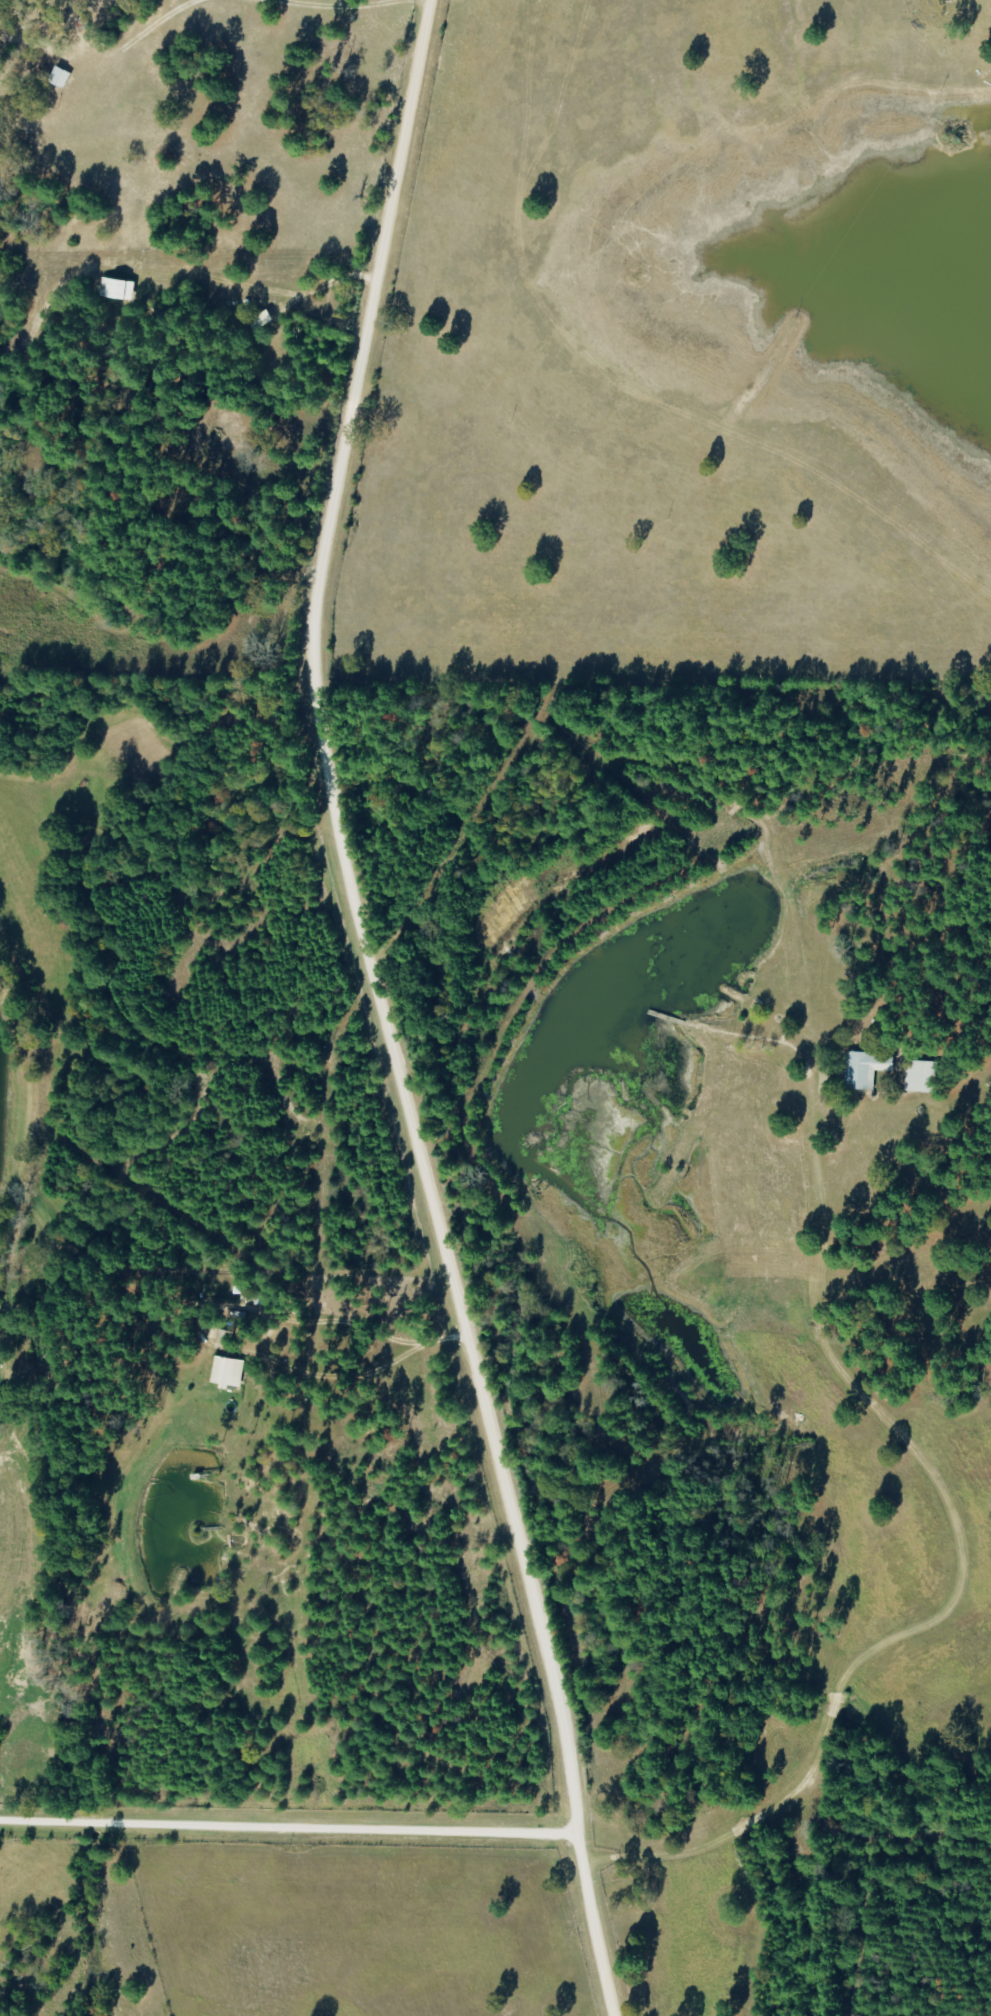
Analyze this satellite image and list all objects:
road: (351, 5)
road: (142, 31)
building: (59, 77)
building: (116, 289)
building: (259, 320)
road: (299, 1032)
building: (864, 1068)
building: (919, 1076)
building: (228, 1372)
road: (285, 1817)

